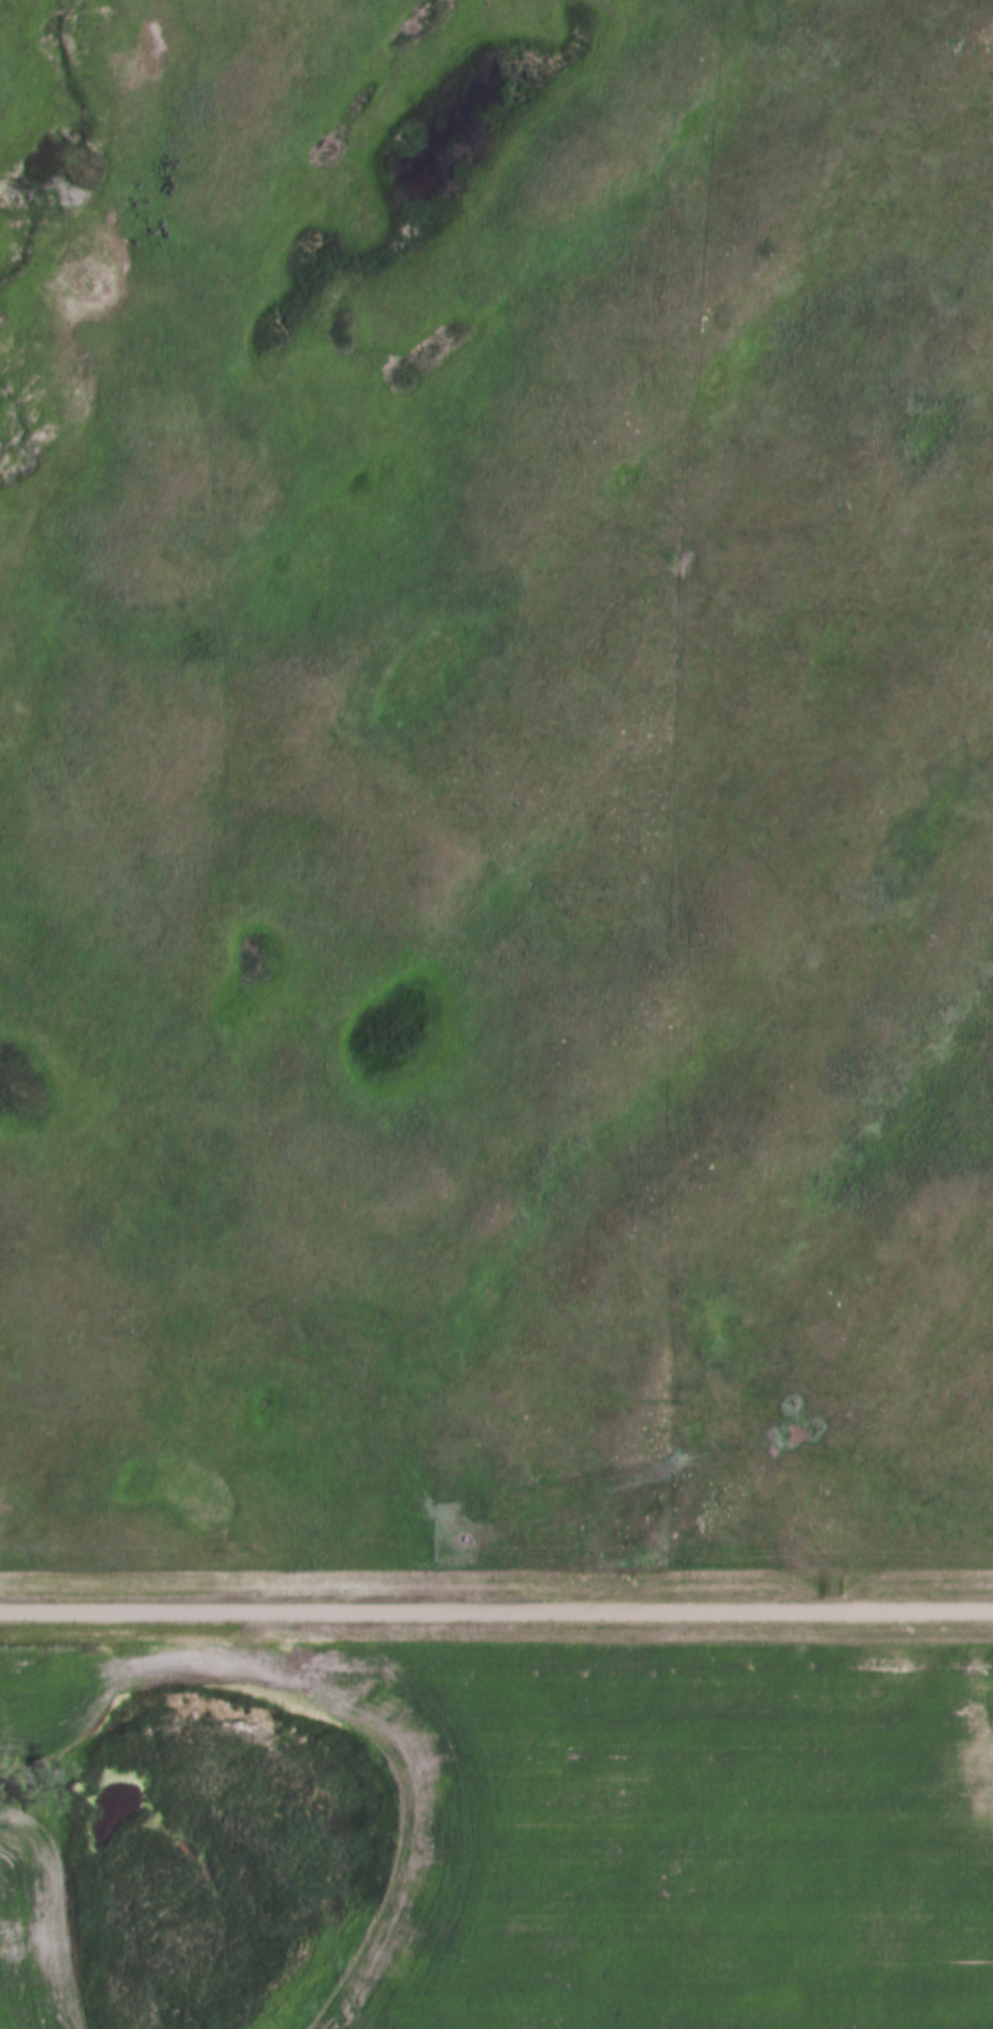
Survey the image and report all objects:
road: (496, 1610)

